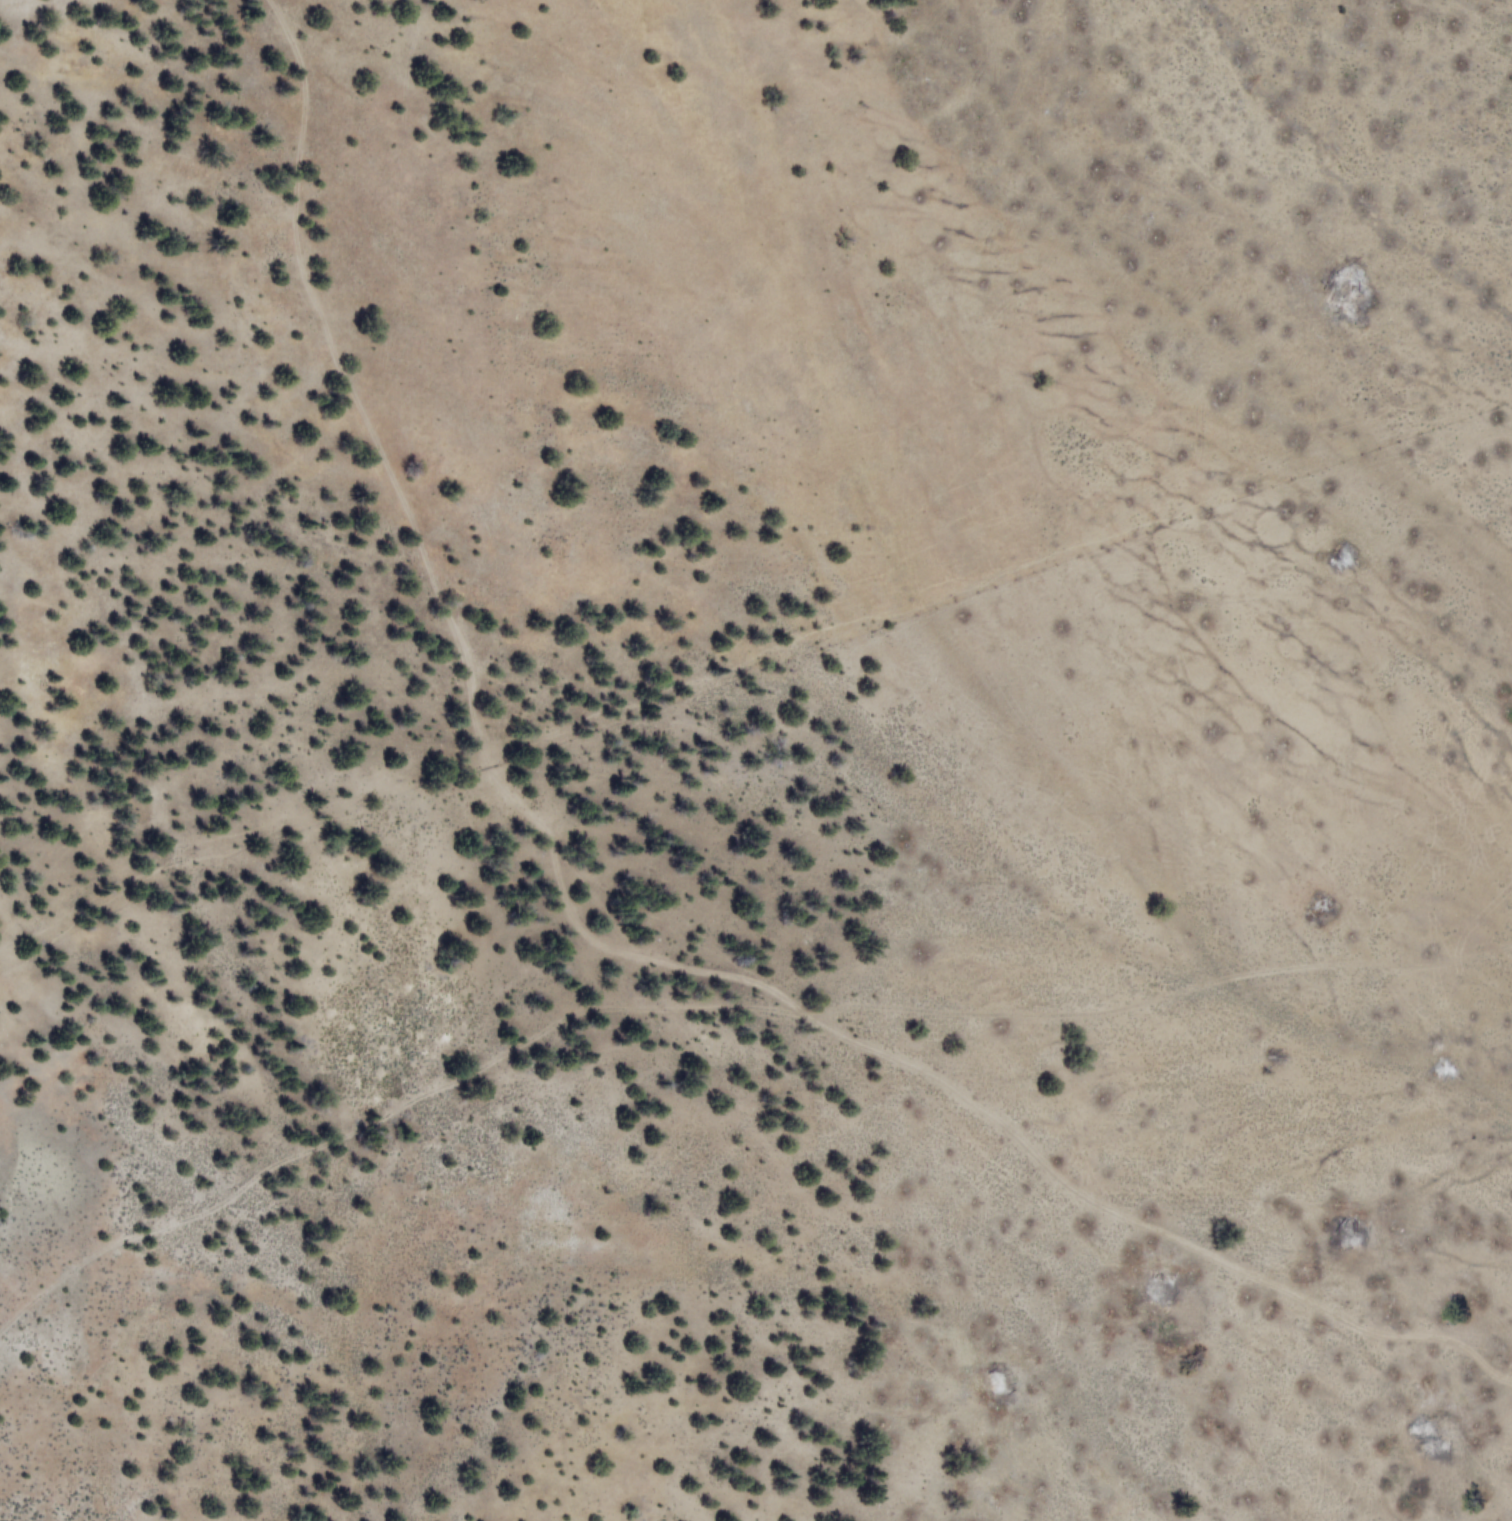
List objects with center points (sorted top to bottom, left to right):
road: (391, 482)
road: (687, 962)

